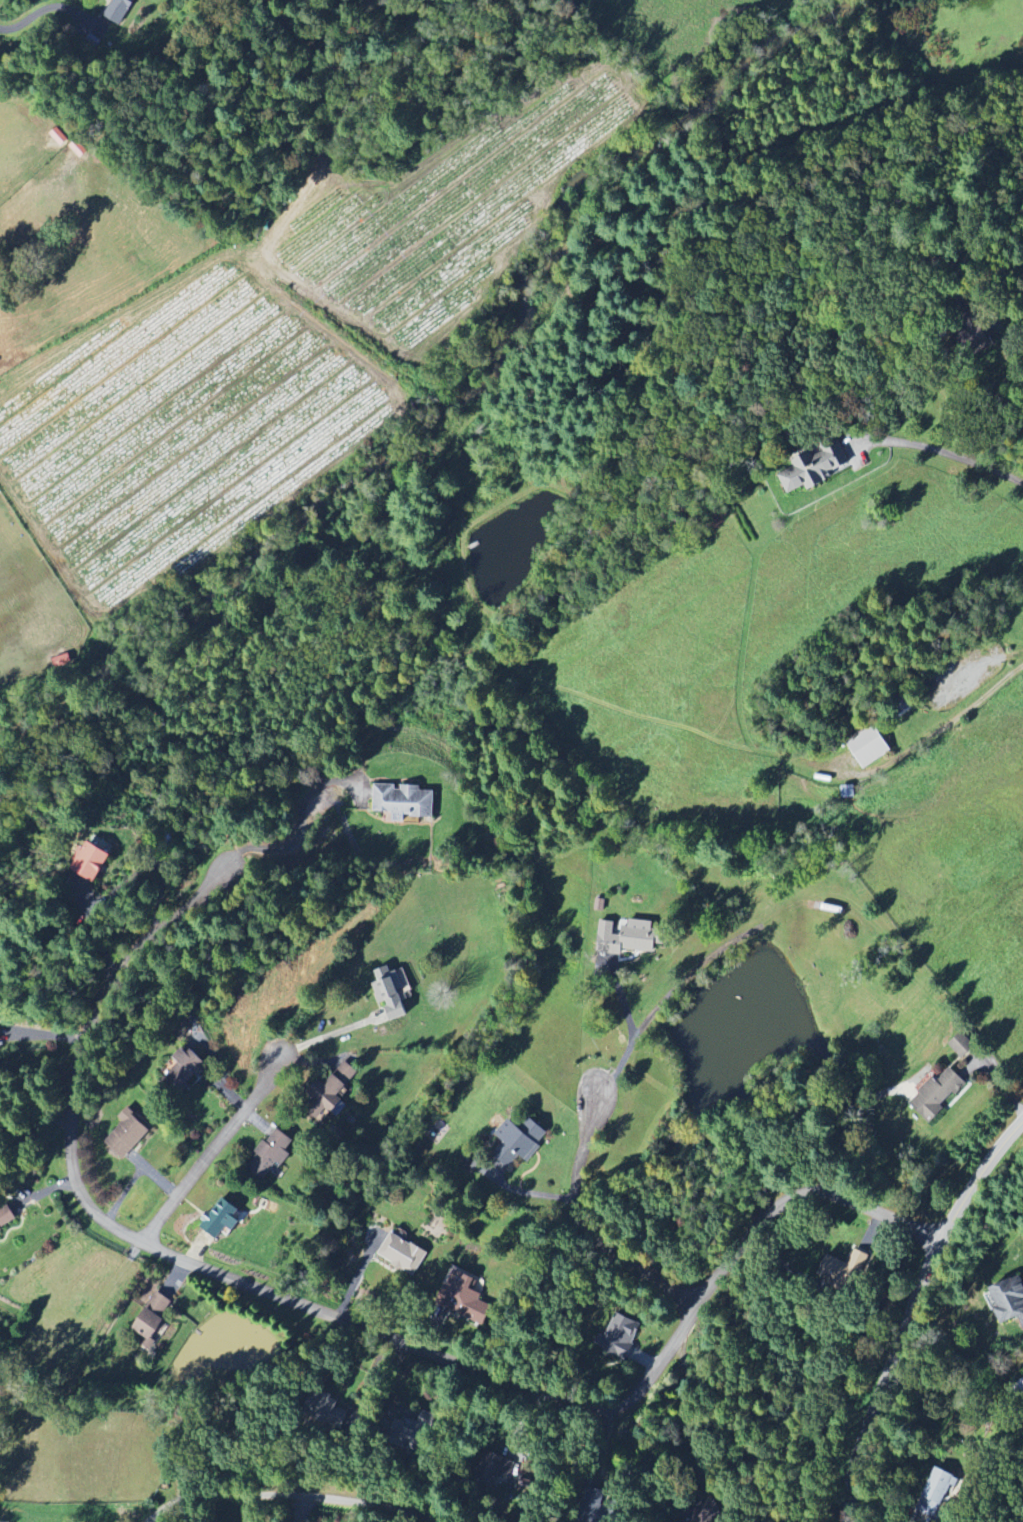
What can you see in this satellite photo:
road: (50, 6)
road: (947, 447)
building: (814, 468)
building: (62, 661)
building: (869, 748)
building: (403, 802)
road: (301, 821)
building: (93, 861)
building: (629, 938)
building: (392, 992)
road: (328, 1035)
road: (631, 1037)
building: (963, 1045)
building: (186, 1067)
building: (334, 1093)
building: (937, 1095)
building: (125, 1137)
building: (519, 1142)
road: (212, 1150)
building: (271, 1154)
building: (469, 1162)
road: (579, 1205)
building: (221, 1218)
building: (403, 1254)
building: (844, 1269)
building: (464, 1299)
building: (1008, 1300)
road: (913, 1307)
building: (154, 1316)
road: (357, 1321)
building: (621, 1335)
building: (329, 1412)
road: (684, 1413)
building: (935, 1493)
road: (284, 1497)
building: (705, 1512)

